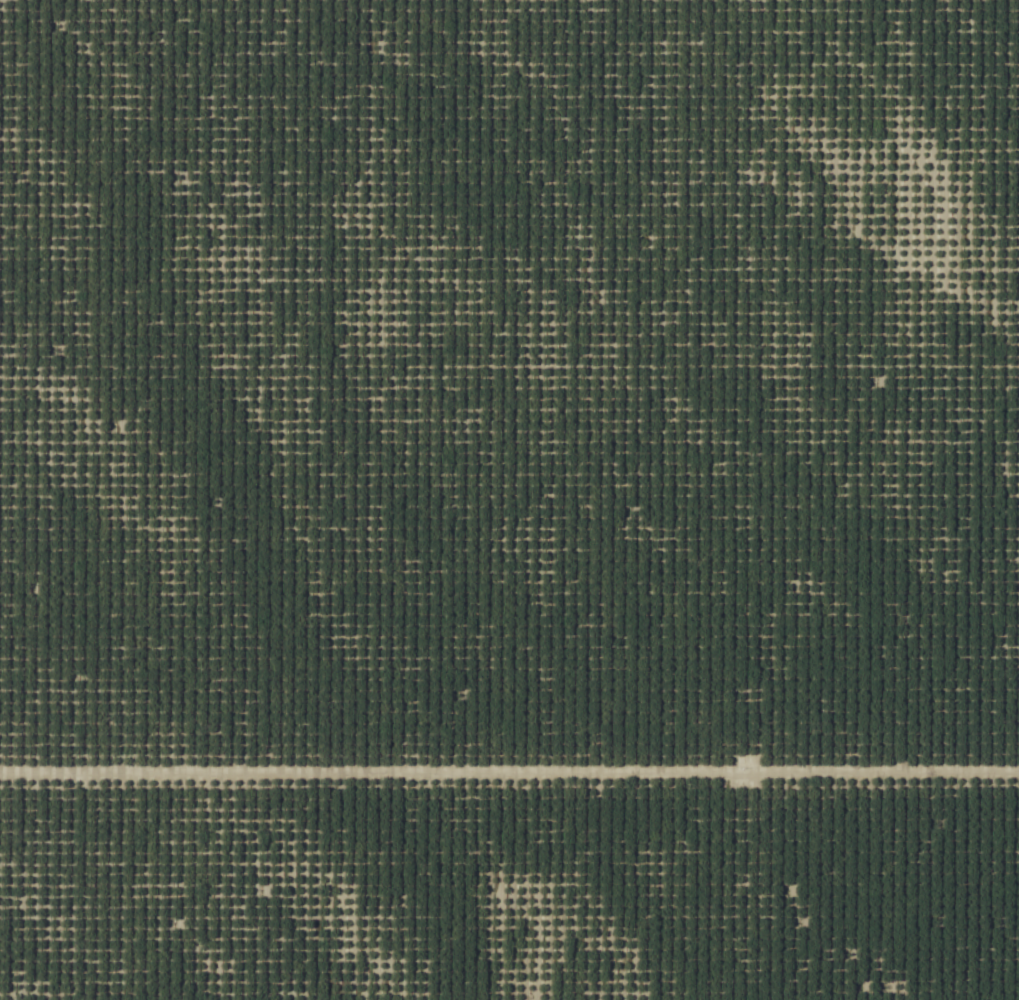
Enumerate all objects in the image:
road: (509, 773)

